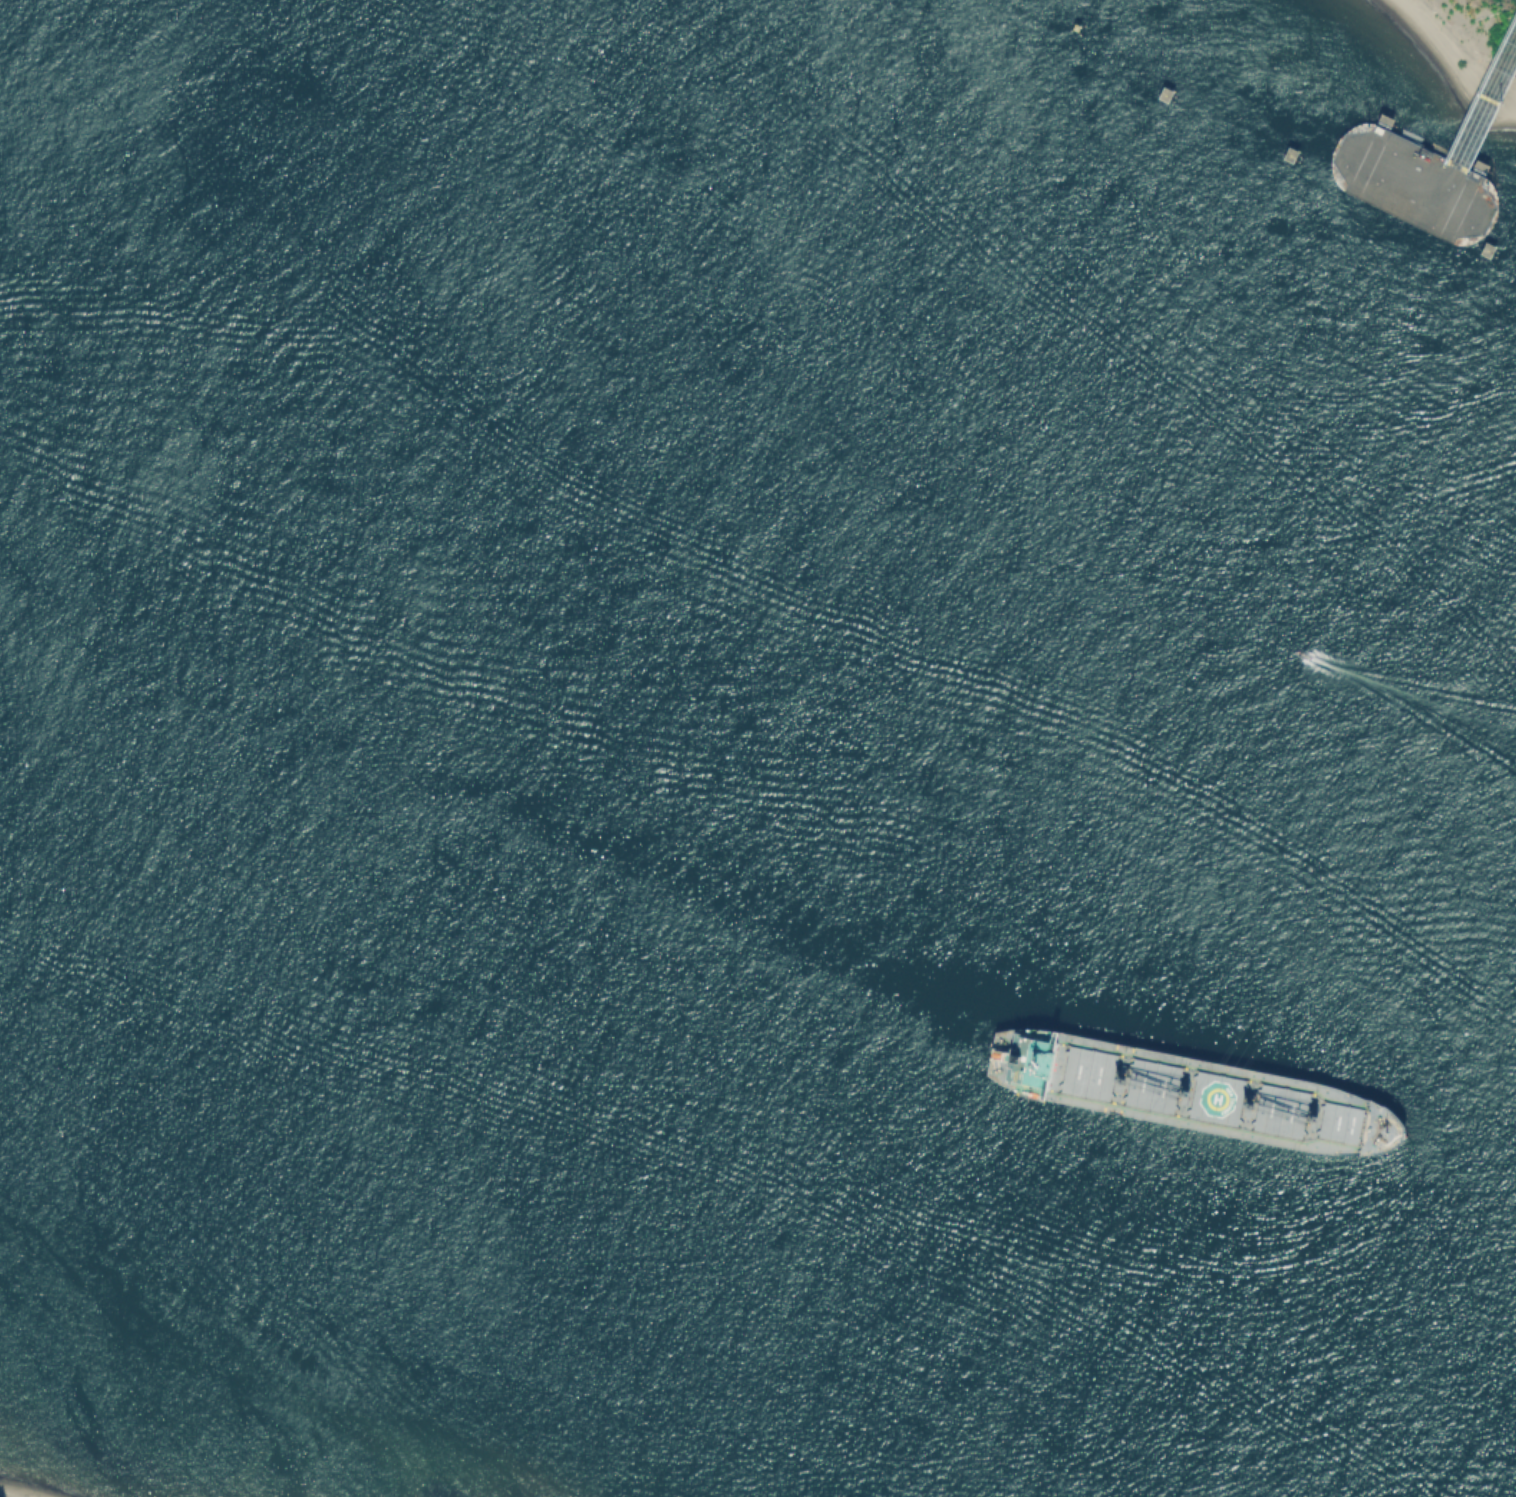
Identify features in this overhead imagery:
pier: (1429, 168)
river: (758, 1023)

